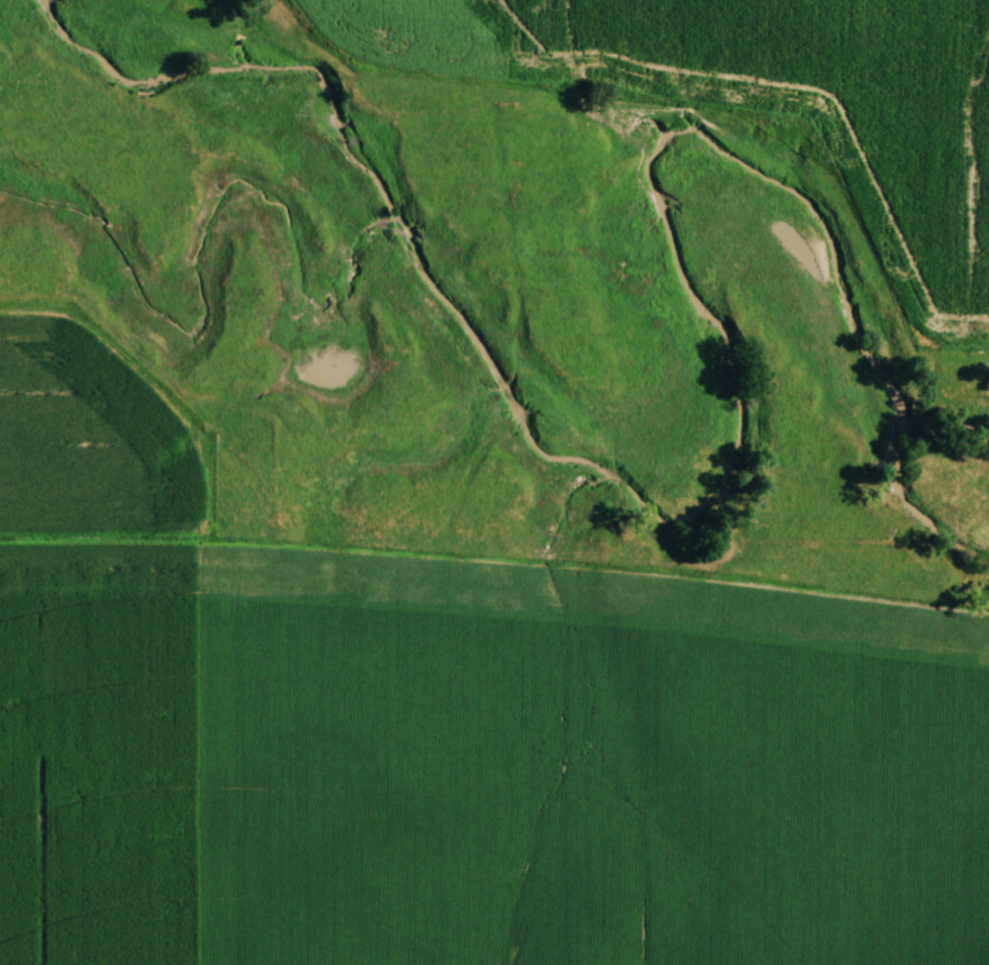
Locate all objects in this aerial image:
river: (716, 501)

